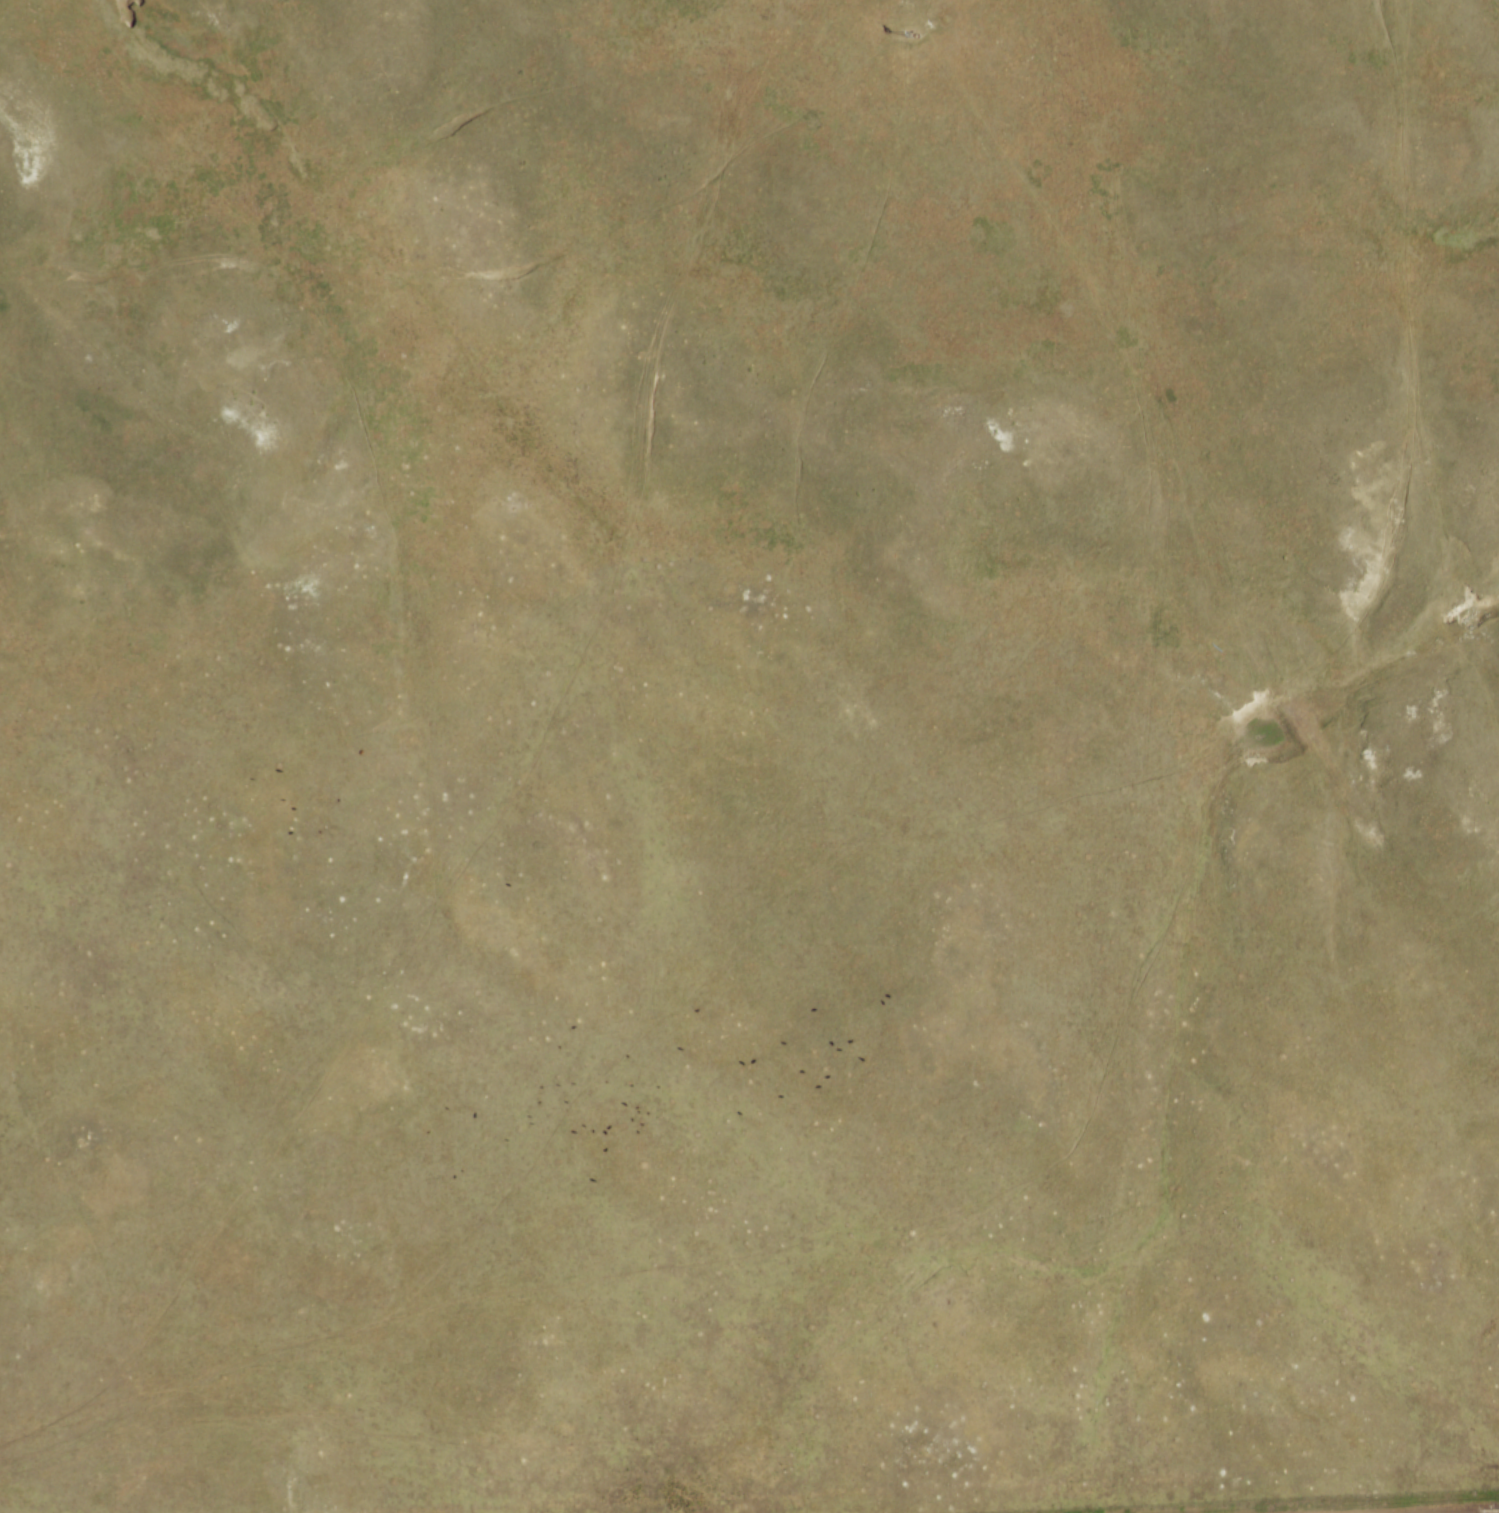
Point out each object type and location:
crop: (1413, 1509)

